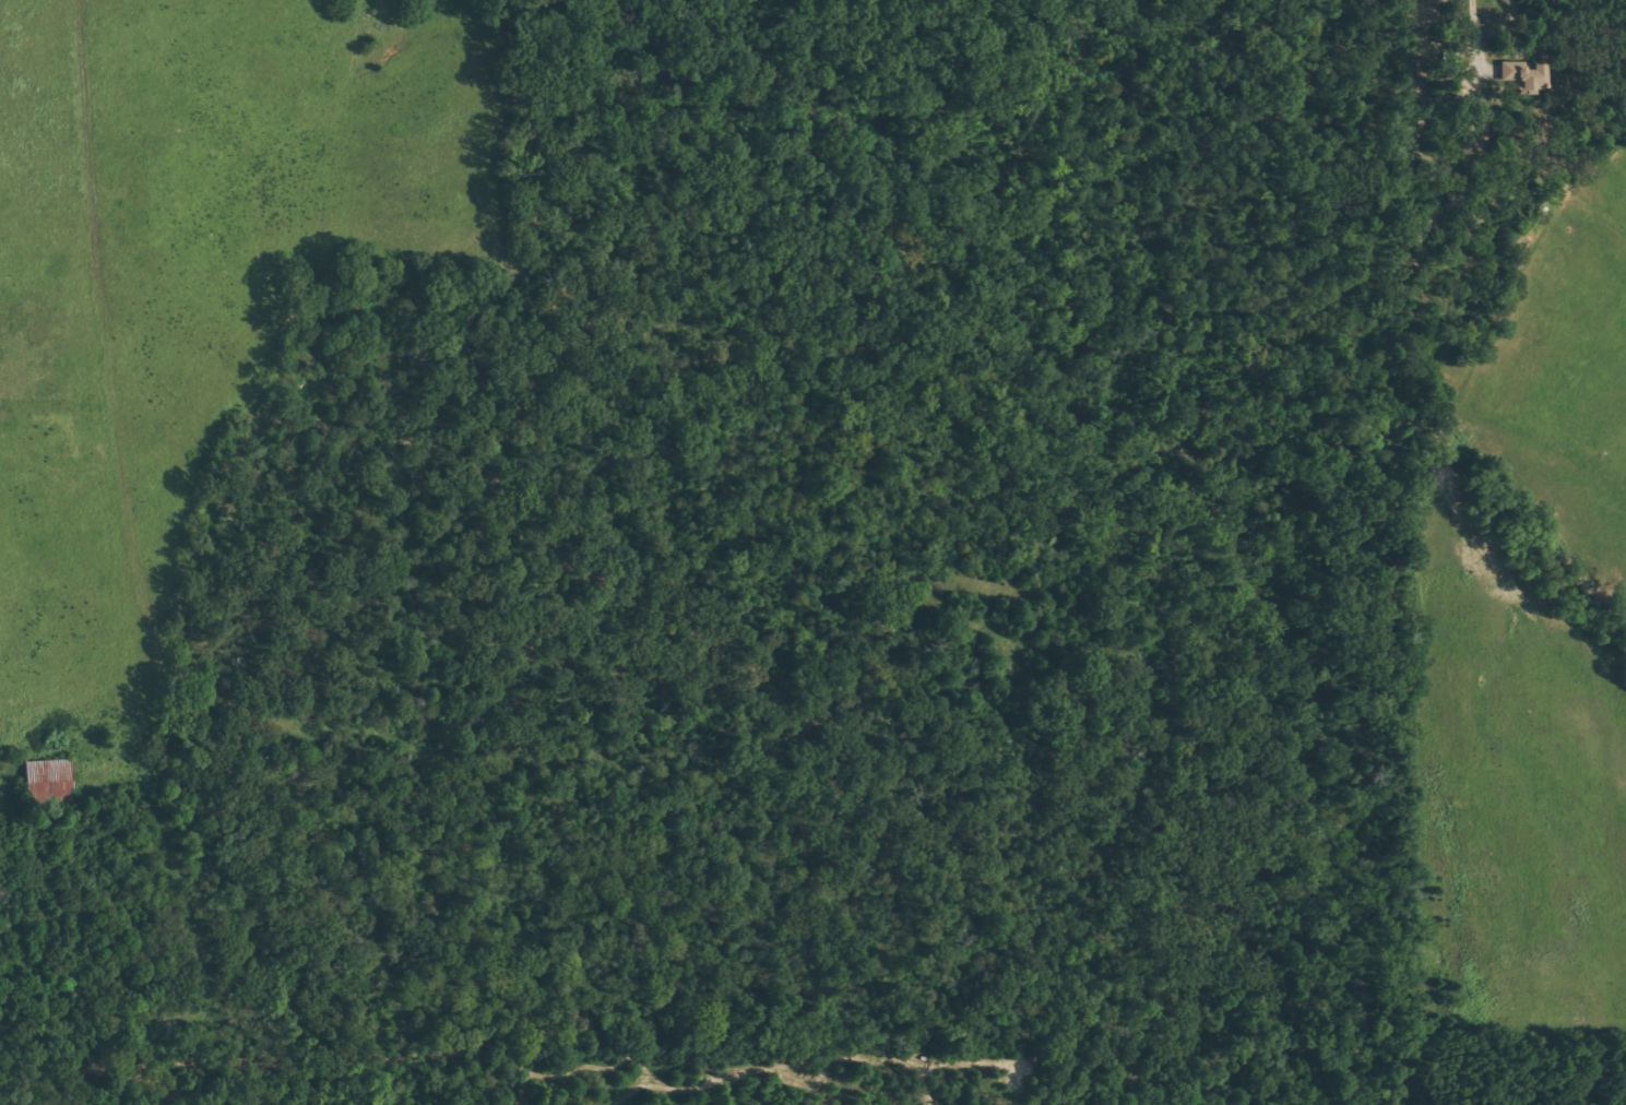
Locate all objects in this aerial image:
building: (1532, 75)

